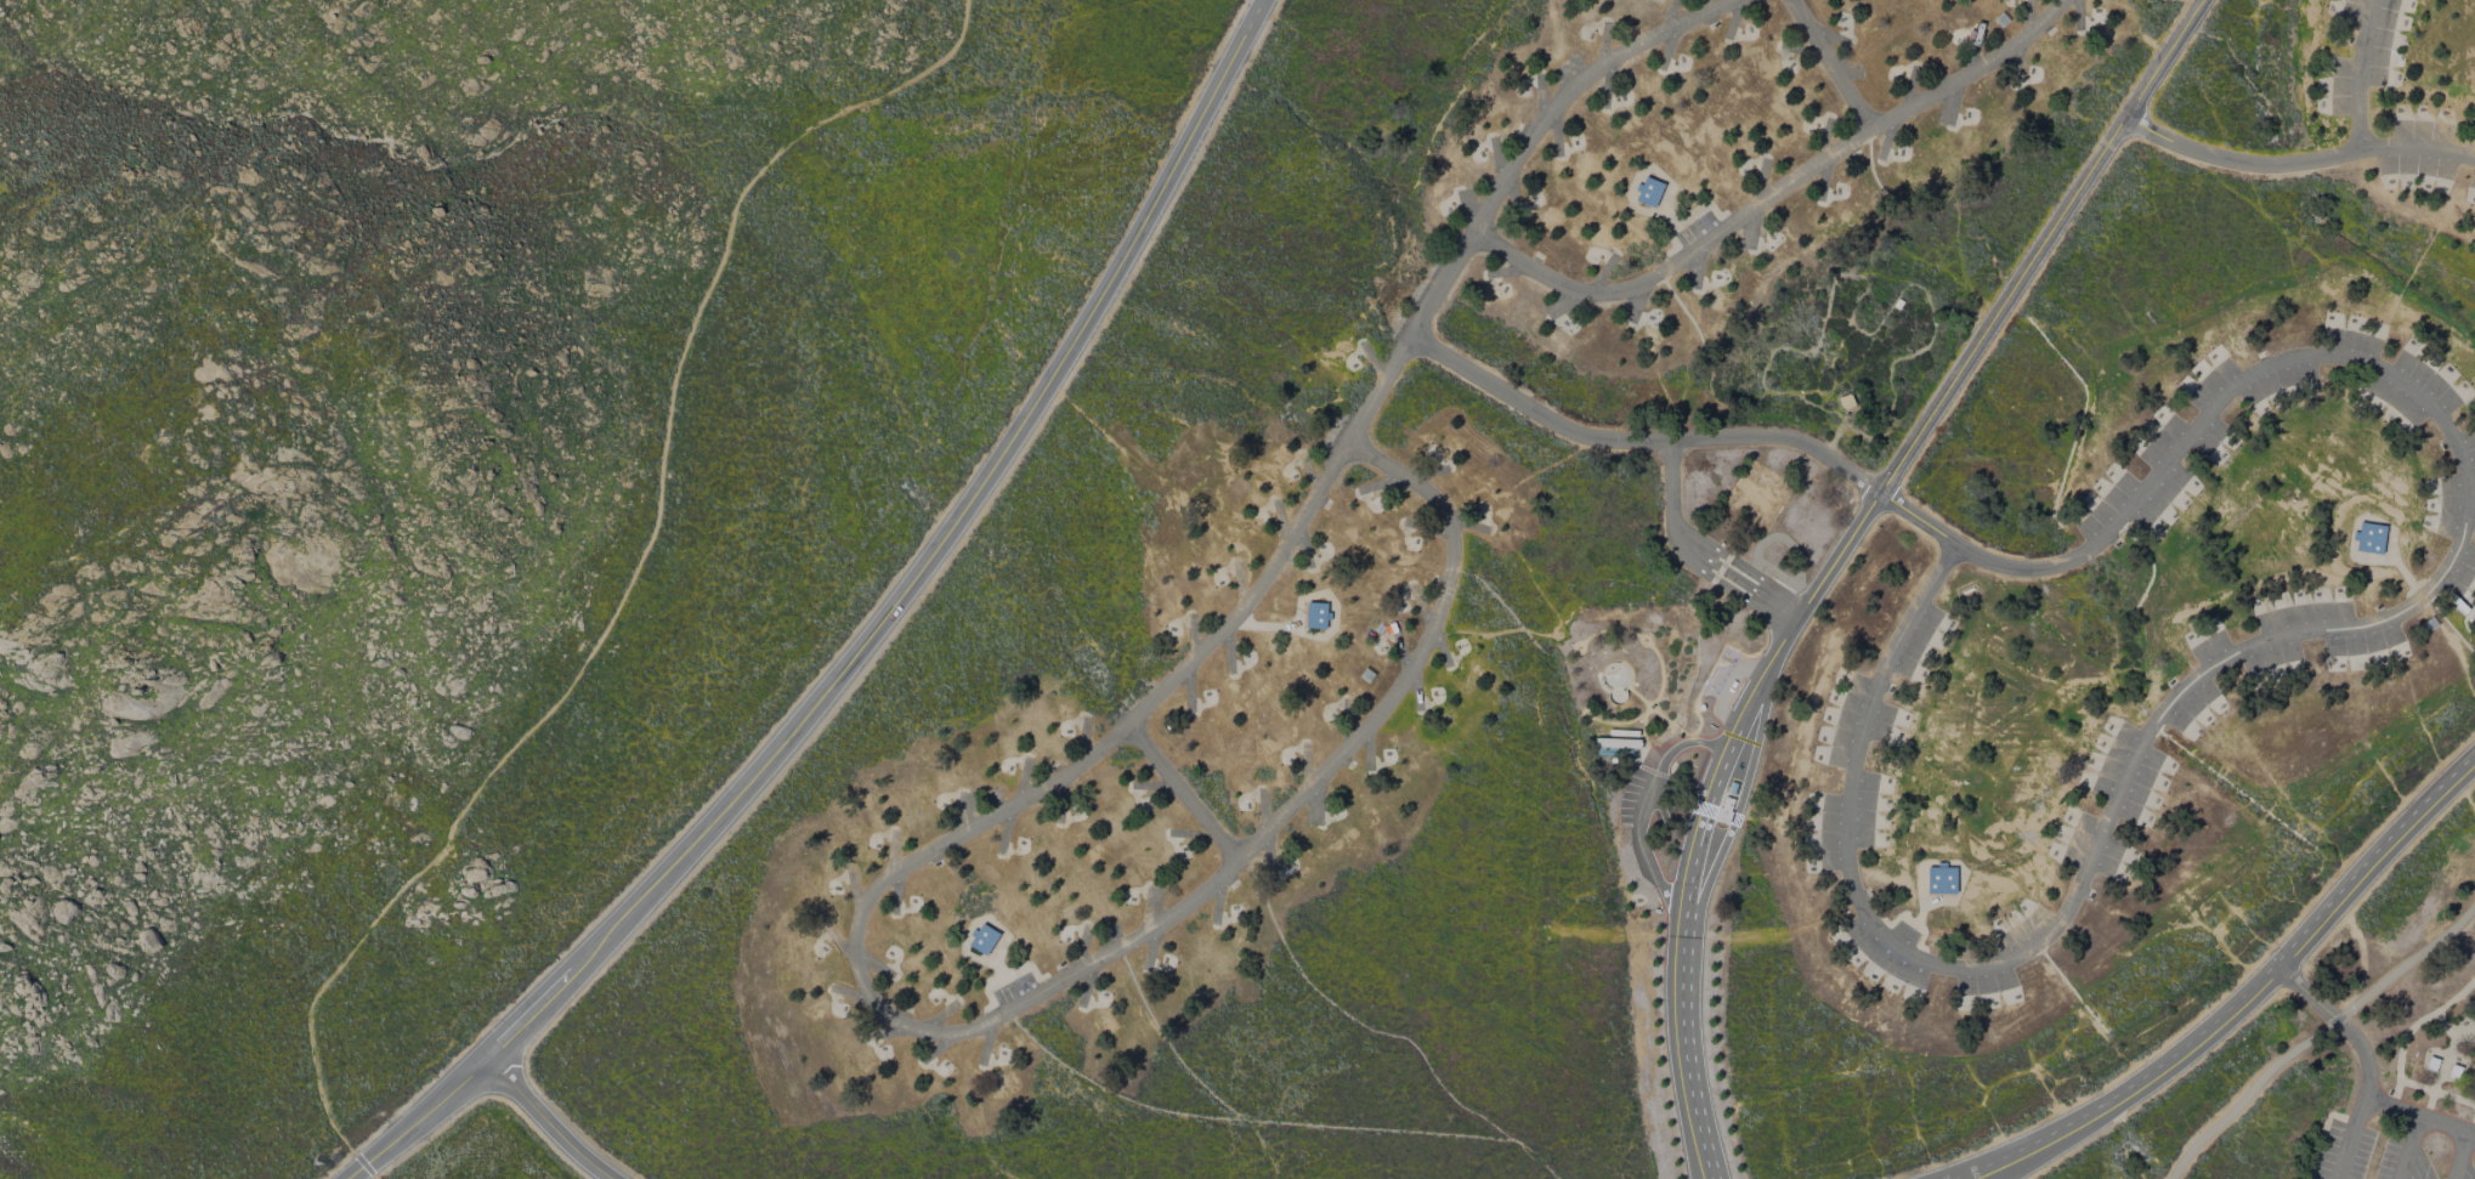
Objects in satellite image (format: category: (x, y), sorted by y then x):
road: (1830, 66)
road: (2361, 69)
road: (1578, 85)
road: (2415, 148)
road: (2239, 154)
building: (1648, 191)
road: (1777, 191)
road: (2225, 397)
road: (1627, 443)
building: (2369, 538)
road: (1697, 548)
road: (1836, 551)
road: (628, 584)
building: (1315, 614)
road: (1267, 625)
road: (860, 635)
building: (1616, 742)
road: (1184, 793)
road: (1643, 809)
building: (1941, 878)
road: (2049, 922)
building: (982, 939)
road: (2244, 997)
road: (897, 1013)
road: (2318, 1037)
road: (2366, 1056)
building: (2431, 1064)
building: (2453, 1071)
road: (986, 1104)
road: (2392, 1107)
road: (2415, 1121)
road: (553, 1122)
road: (2473, 1130)
parking lot: (2383, 1151)
road: (2464, 1155)

